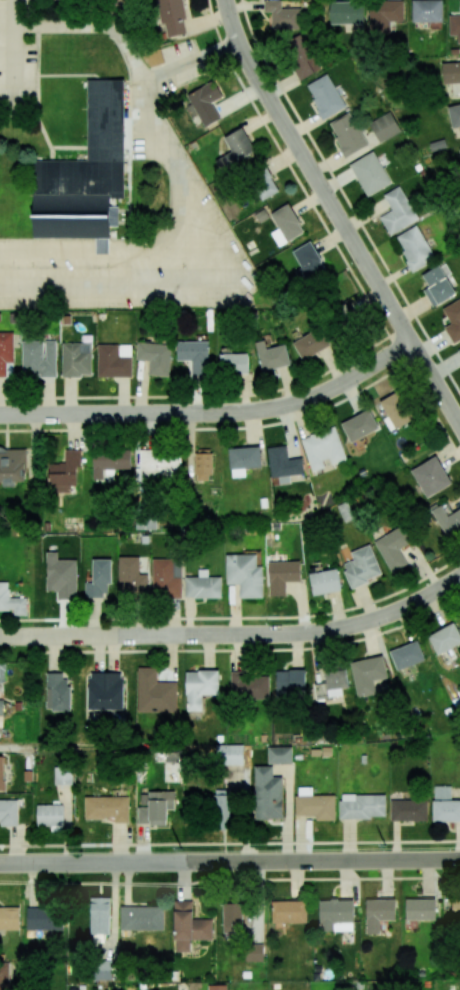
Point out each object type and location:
building: (459, 4)
building: (427, 11)
building: (347, 12)
road: (17, 13)
building: (384, 15)
building: (282, 16)
building: (172, 17)
building: (454, 26)
building: (301, 56)
building: (154, 57)
building: (451, 72)
road: (18, 74)
road: (147, 94)
building: (325, 96)
building: (206, 103)
building: (454, 115)
building: (384, 127)
building: (347, 134)
building: (459, 149)
building: (235, 150)
building: (369, 173)
building: (83, 177)
building: (263, 185)
building: (397, 211)
road: (337, 213)
building: (285, 224)
building: (415, 249)
road: (112, 251)
building: (307, 262)
road: (124, 271)
building: (437, 285)
road: (146, 291)
building: (453, 320)
building: (310, 344)
building: (459, 349)
building: (5, 351)
building: (194, 355)
building: (271, 356)
building: (155, 357)
building: (39, 358)
building: (76, 359)
building: (114, 360)
building: (233, 363)
building: (395, 410)
road: (214, 413)
building: (359, 426)
building: (323, 449)
building: (243, 460)
building: (109, 462)
building: (203, 464)
building: (283, 464)
building: (160, 465)
building: (12, 466)
building: (64, 472)
building: (430, 476)
building: (447, 521)
building: (392, 549)
building: (361, 566)
building: (244, 574)
building: (282, 575)
building: (61, 576)
building: (131, 577)
building: (99, 578)
building: (166, 578)
building: (324, 582)
building: (203, 585)
building: (11, 601)
road: (236, 616)
road: (235, 634)
building: (445, 638)
building: (406, 655)
building: (2, 673)
building: (367, 675)
building: (290, 682)
building: (331, 683)
building: (249, 686)
building: (200, 687)
building: (105, 690)
building: (57, 692)
building: (154, 692)
building: (1, 707)
building: (229, 754)
building: (279, 755)
building: (1, 773)
building: (63, 777)
building: (267, 794)
building: (314, 804)
building: (445, 805)
building: (362, 806)
building: (154, 807)
building: (107, 808)
building: (223, 808)
building: (408, 810)
building: (8, 812)
building: (49, 815)
road: (230, 842)
power tower: (384, 846)
power tower: (180, 848)
road: (230, 862)
road: (229, 879)
building: (455, 907)
building: (420, 909)
building: (288, 911)
building: (378, 913)
building: (99, 915)
building: (336, 915)
building: (232, 917)
building: (9, 918)
building: (141, 918)
building: (44, 919)
building: (188, 926)
building: (254, 952)
building: (103, 972)
building: (3, 979)
building: (217, 987)

